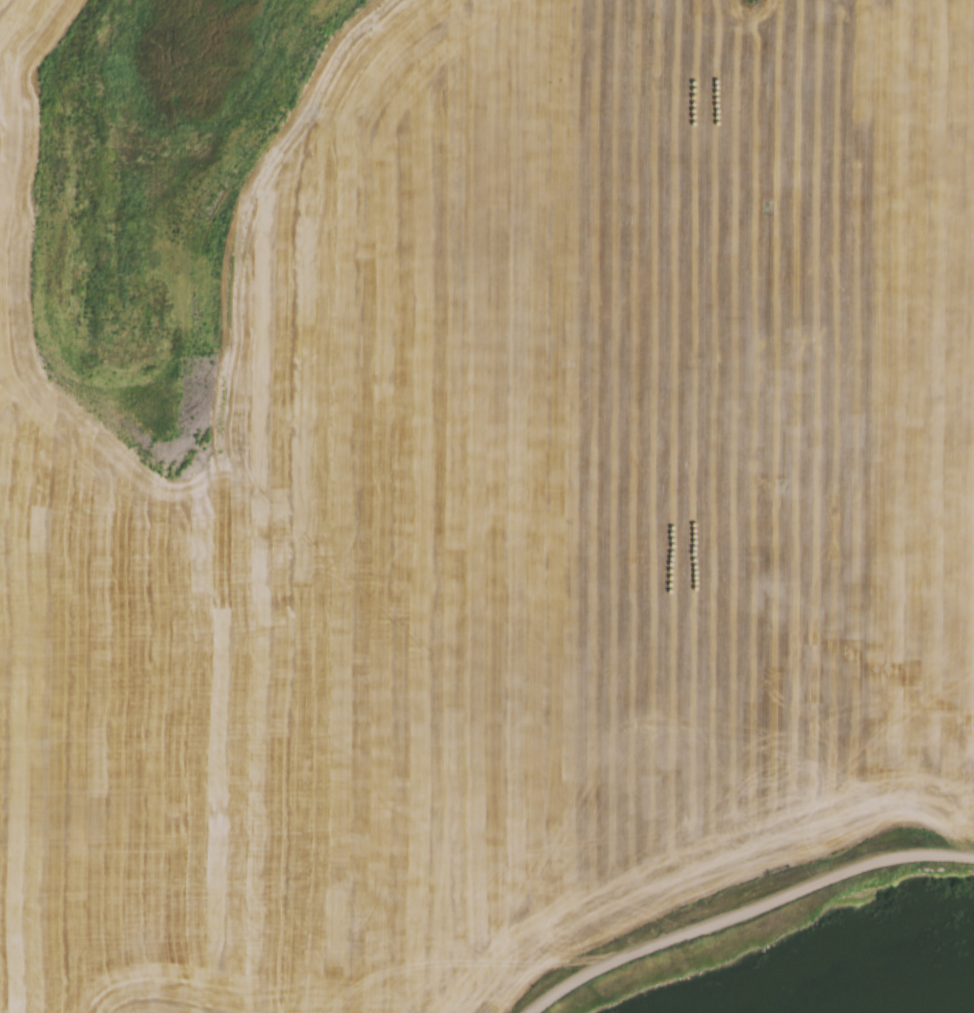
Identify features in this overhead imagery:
road: (749, 915)

